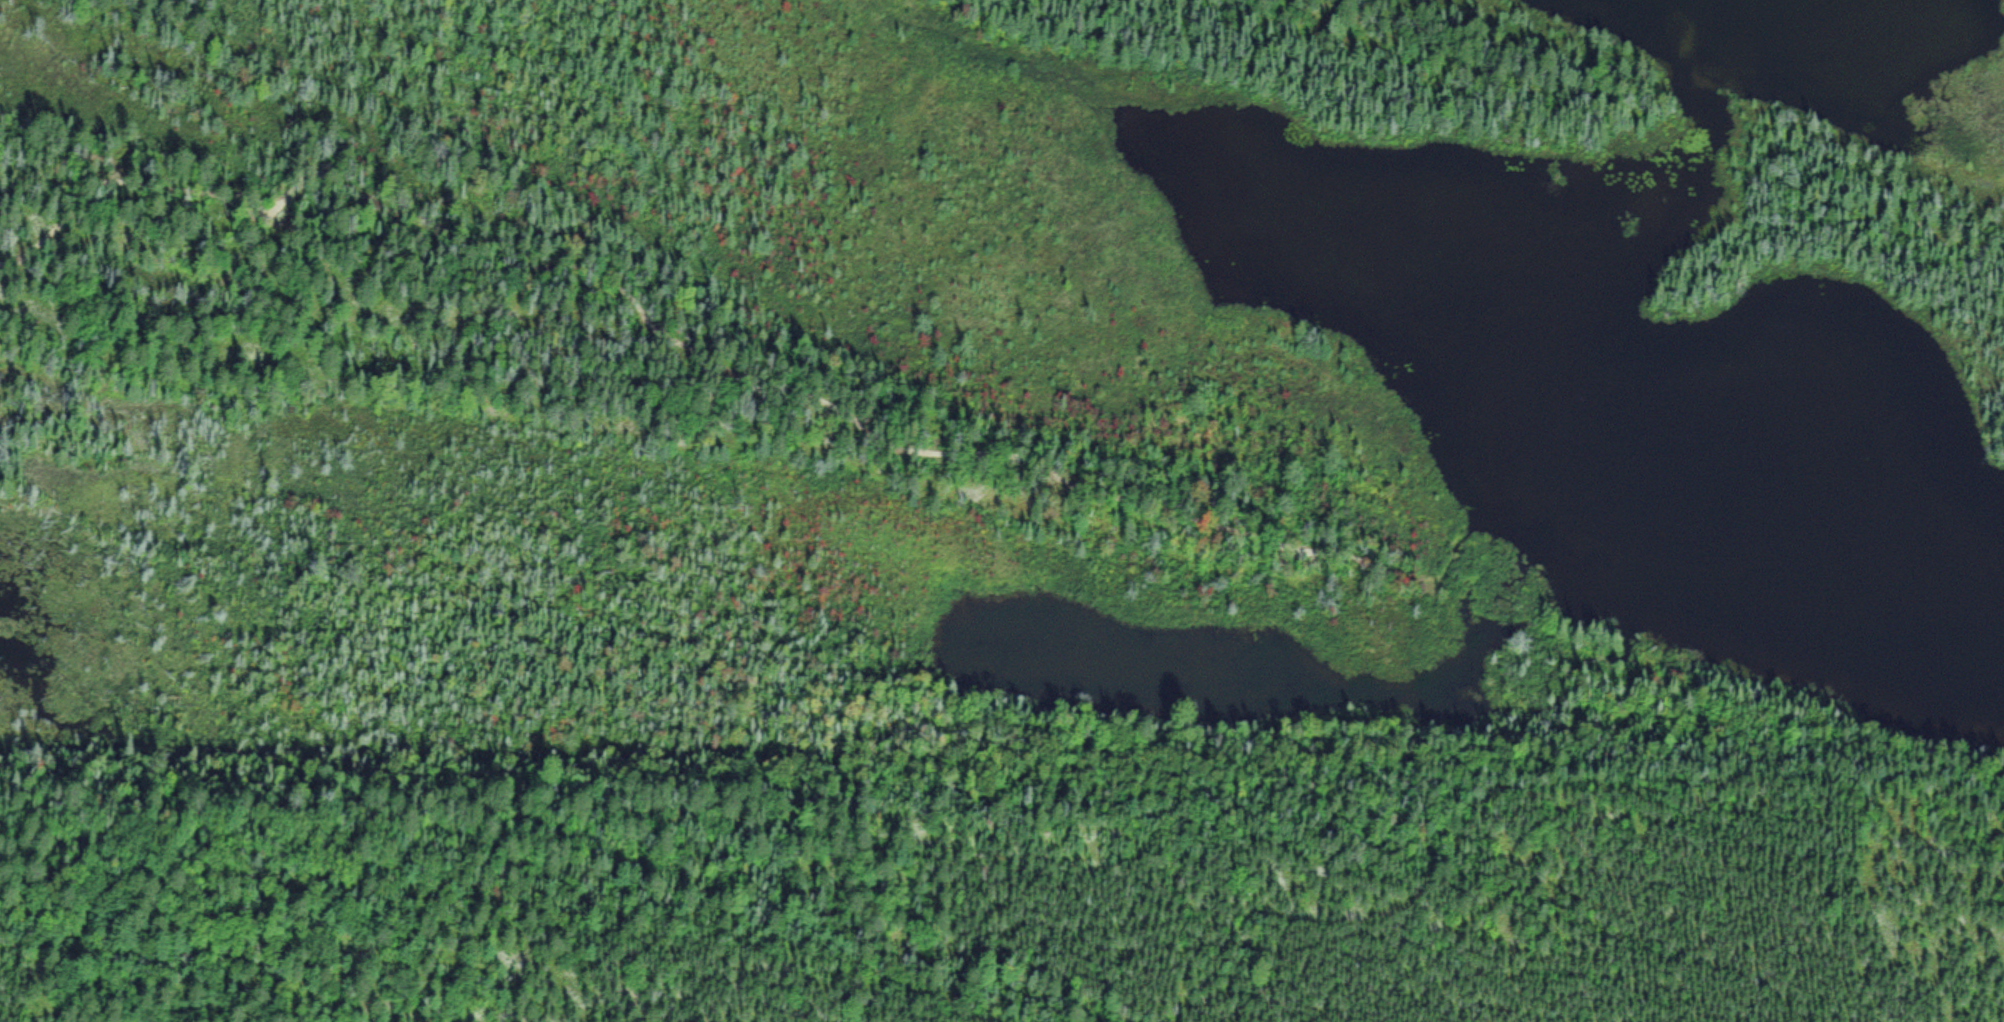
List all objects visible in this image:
road: (706, 339)

